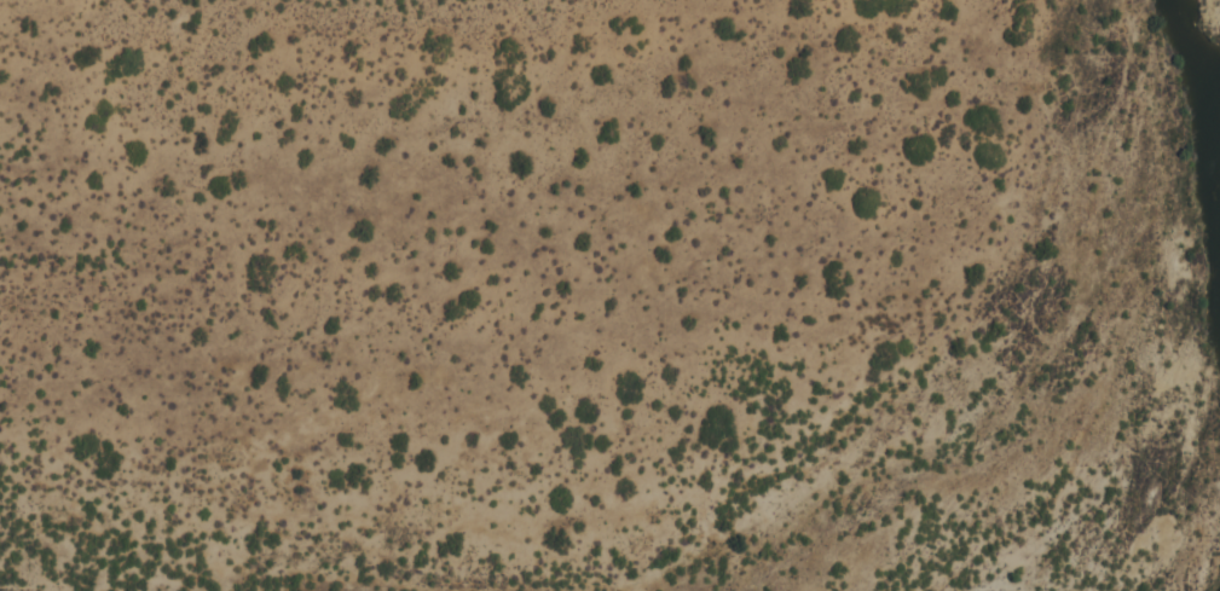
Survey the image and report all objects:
river: (1192, 54)

